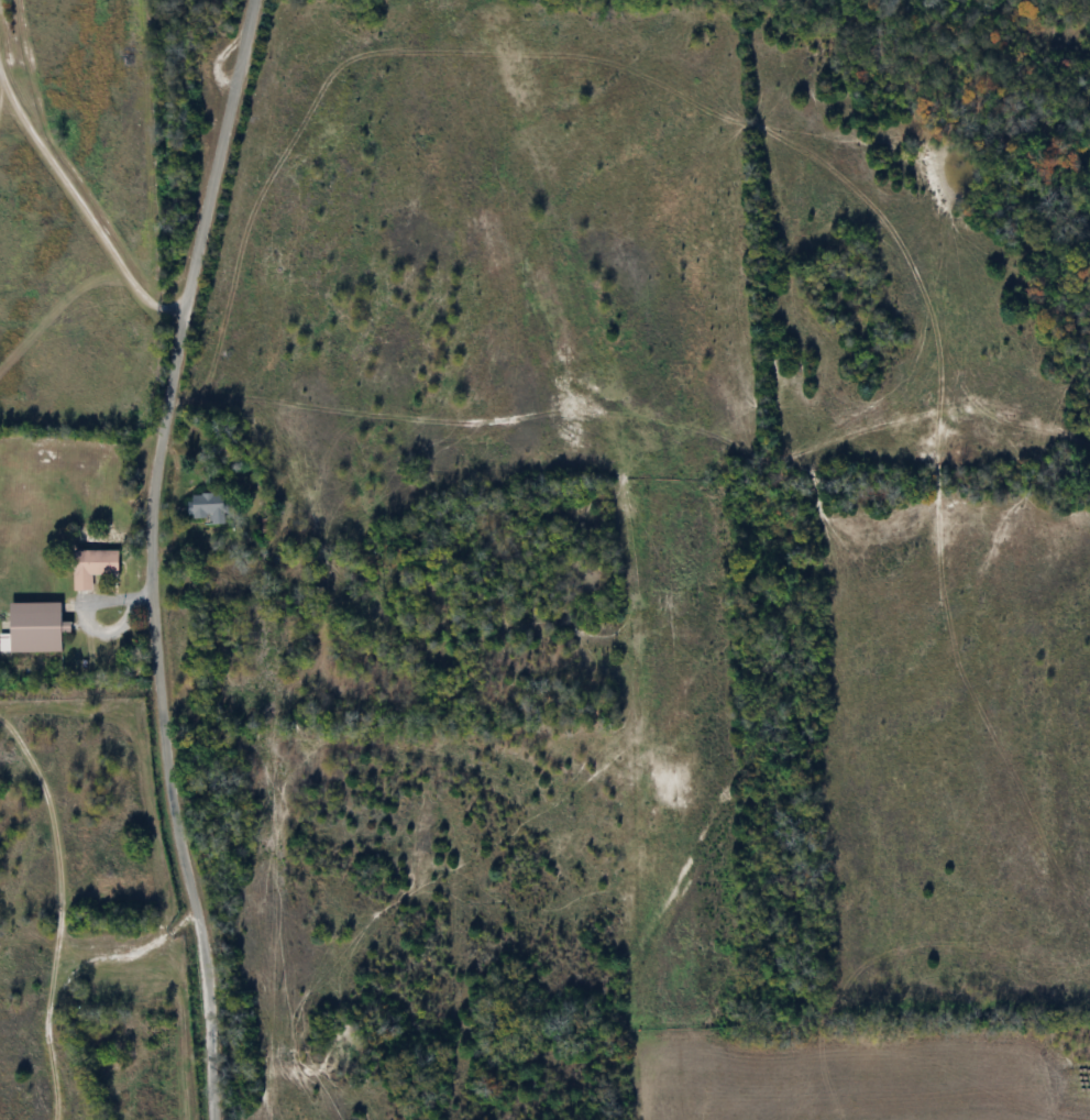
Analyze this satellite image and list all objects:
road: (85, 206)
building: (206, 503)
road: (151, 557)
building: (90, 566)
road: (87, 610)
building: (32, 626)
building: (40, 971)

